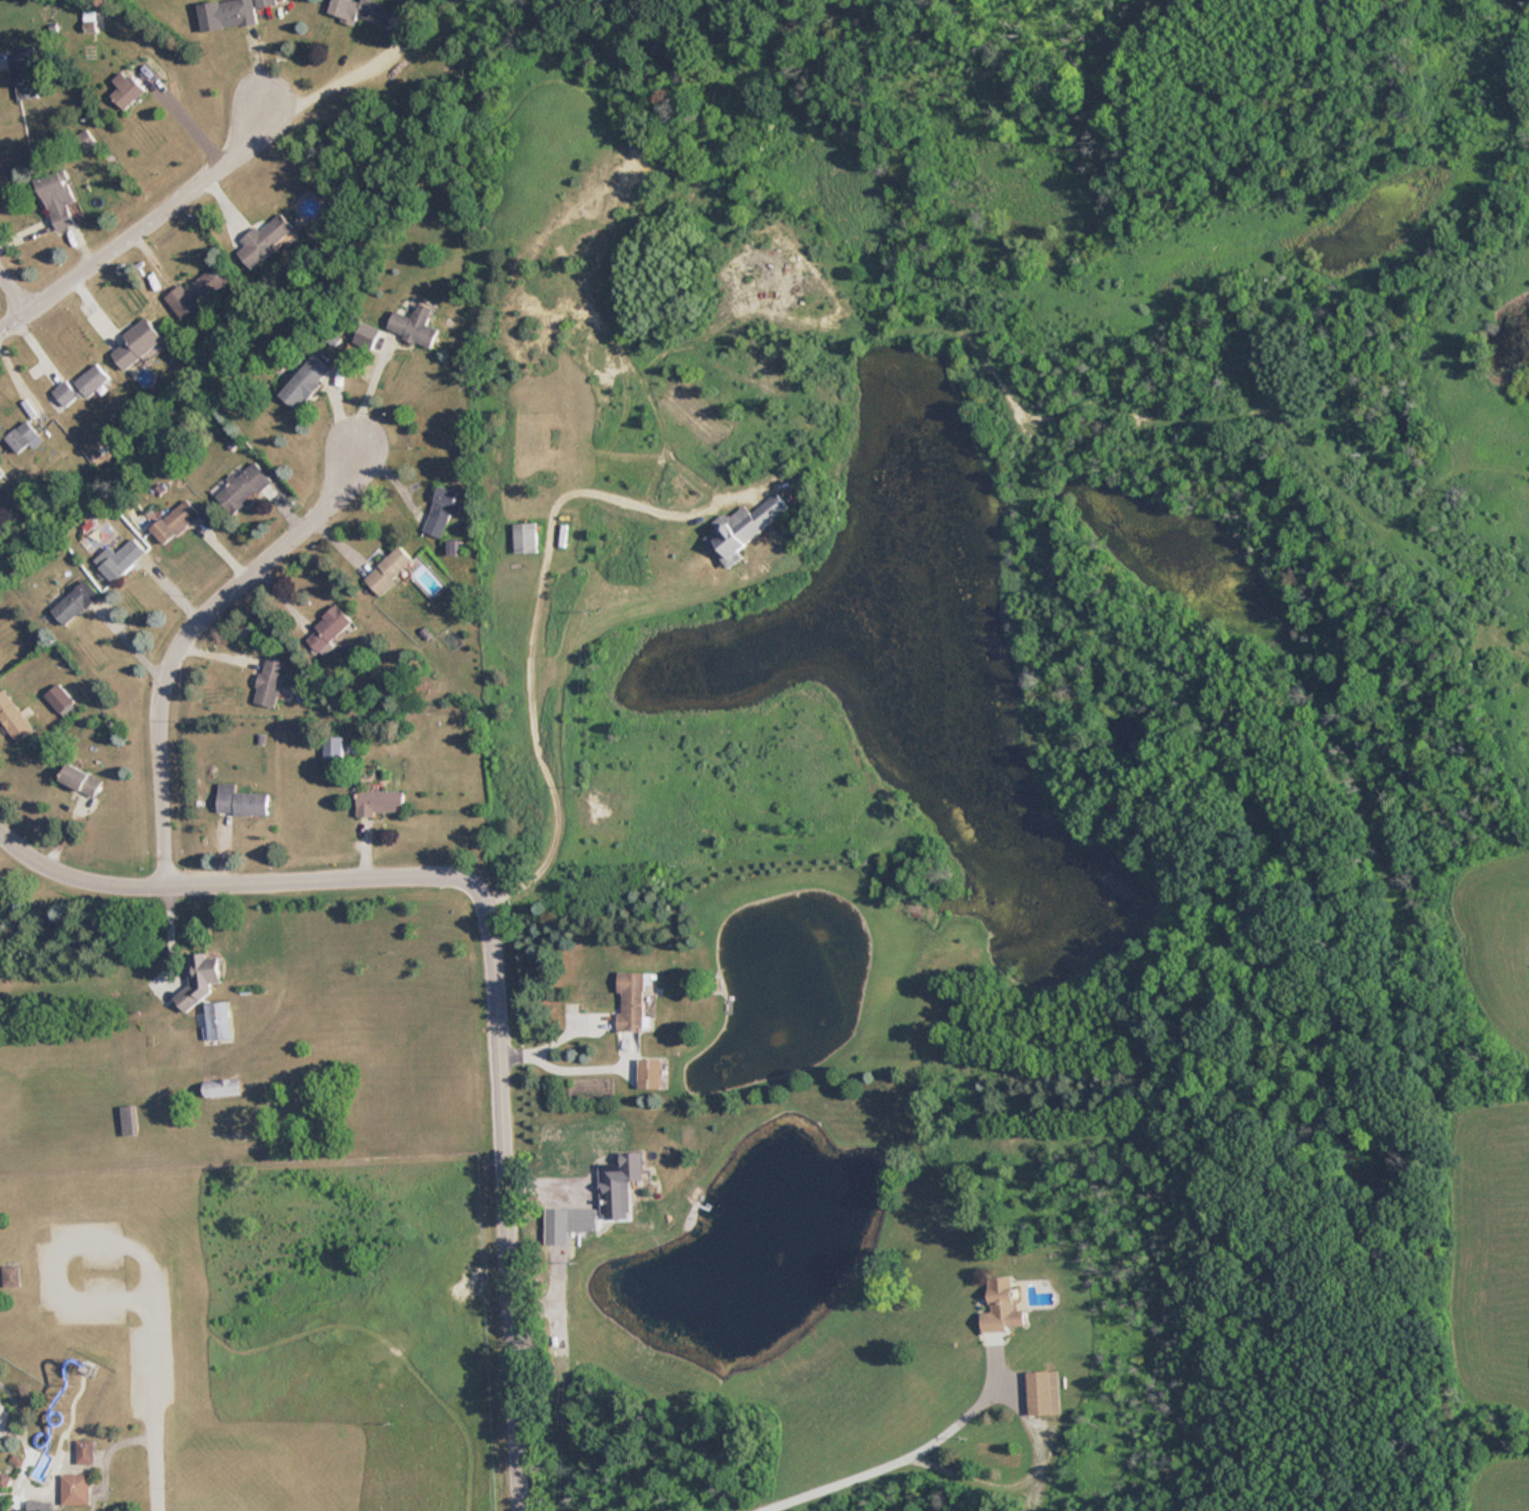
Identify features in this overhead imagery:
building: (264, 3)
building: (360, 10)
building: (225, 14)
building: (21, 72)
road: (312, 86)
building: (125, 89)
building: (84, 139)
building: (57, 198)
road: (143, 221)
building: (264, 239)
road: (14, 286)
building: (194, 292)
building: (418, 316)
building: (136, 343)
building: (308, 372)
building: (78, 387)
road: (365, 396)
building: (23, 437)
building: (1, 473)
building: (245, 476)
building: (445, 504)
building: (178, 515)
building: (750, 524)
building: (531, 533)
building: (128, 550)
building: (395, 563)
building: (79, 594)
road: (535, 599)
building: (333, 621)
road: (187, 629)
building: (276, 673)
building: (62, 689)
building: (59, 699)
building: (14, 707)
building: (88, 773)
building: (247, 793)
building: (383, 795)
road: (491, 952)
building: (201, 969)
building: (631, 1001)
building: (224, 1012)
road: (556, 1041)
road: (584, 1070)
building: (649, 1074)
building: (226, 1079)
building: (221, 1088)
building: (127, 1120)
building: (628, 1172)
park: (247, 1213)
building: (582, 1220)
road: (61, 1241)
building: (14, 1264)
building: (12, 1276)
building: (1002, 1306)
building: (1043, 1391)
road: (158, 1400)
water park: (49, 1422)
road: (1030, 1427)
road: (107, 1451)
building: (84, 1452)
road: (826, 1478)
building: (79, 1480)
park: (266, 1489)

